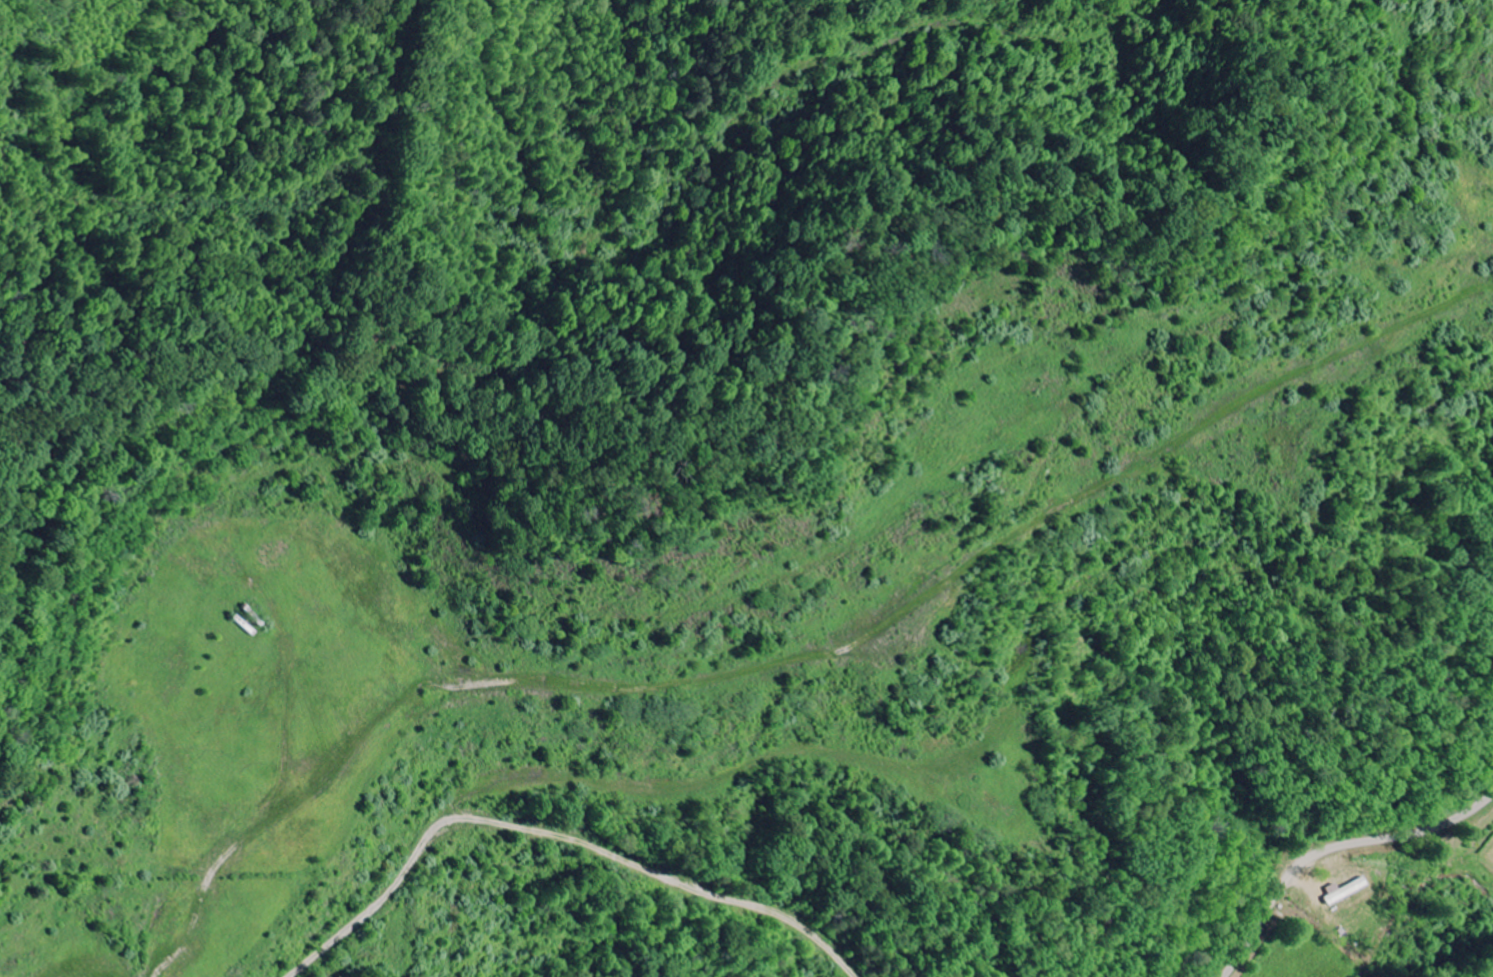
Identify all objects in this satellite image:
road: (1333, 848)
building: (1344, 892)

